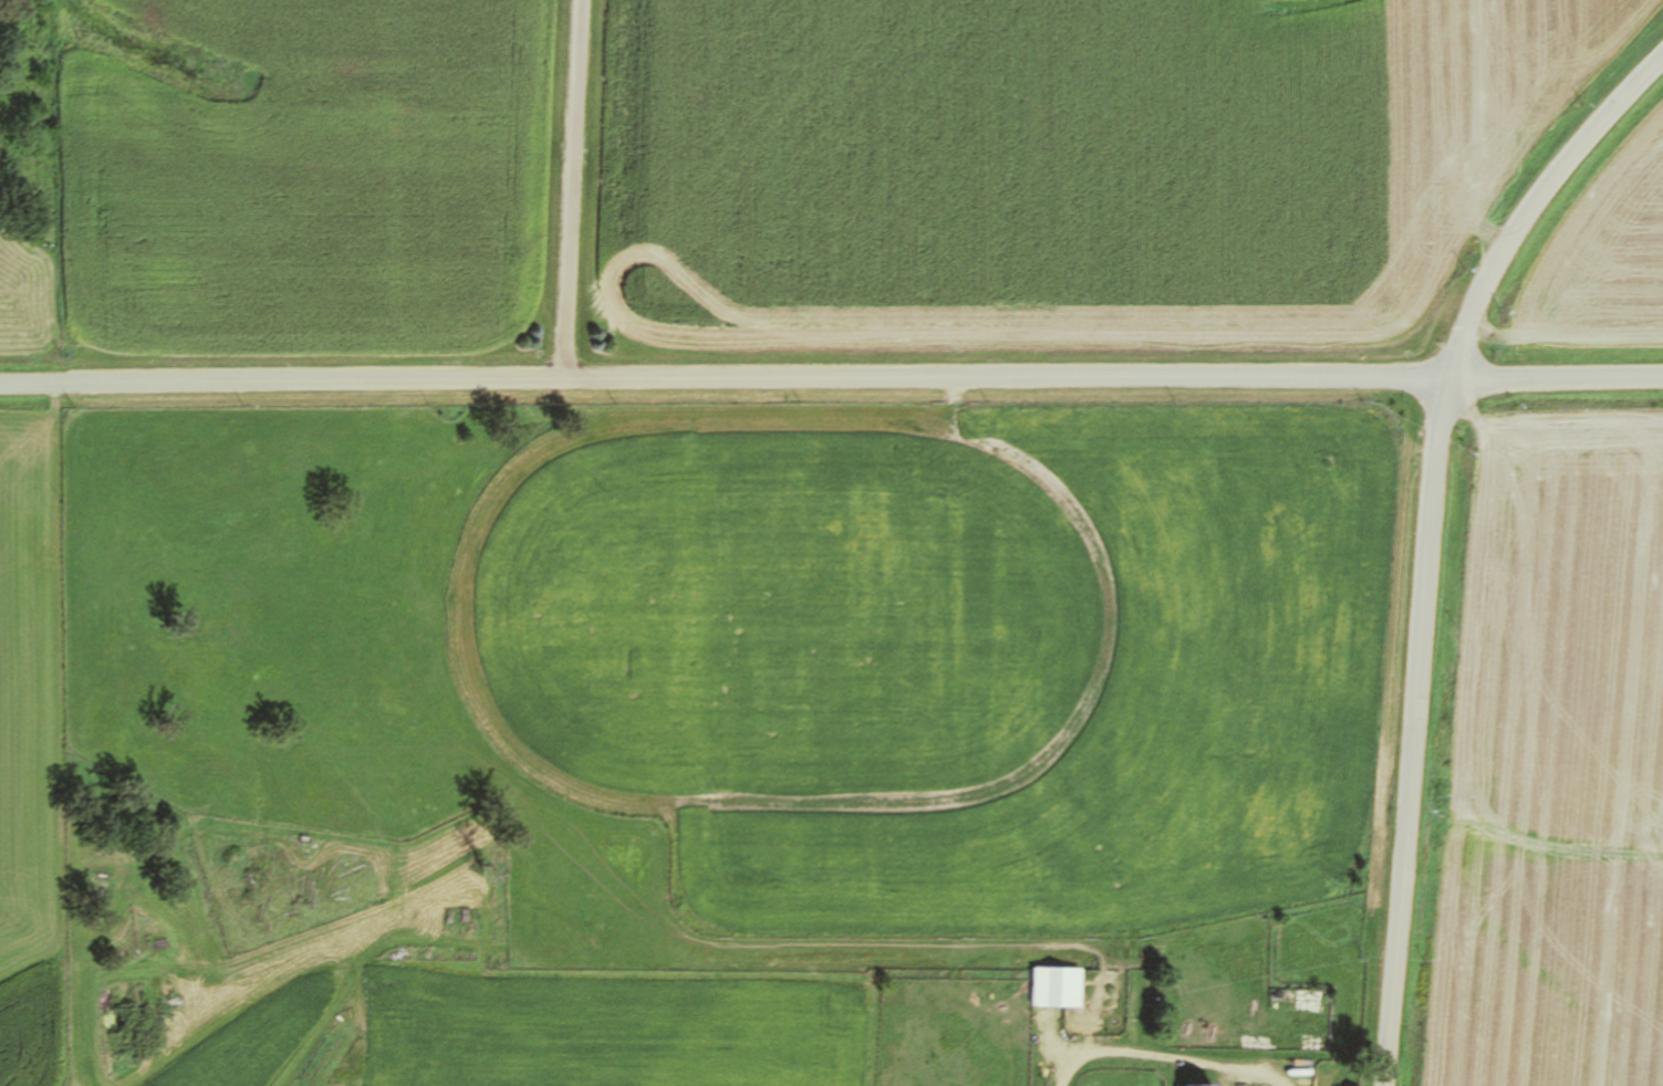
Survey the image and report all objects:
road: (574, 192)
road: (831, 383)
road: (1427, 535)
building: (1057, 986)
building: (1202, 1085)

